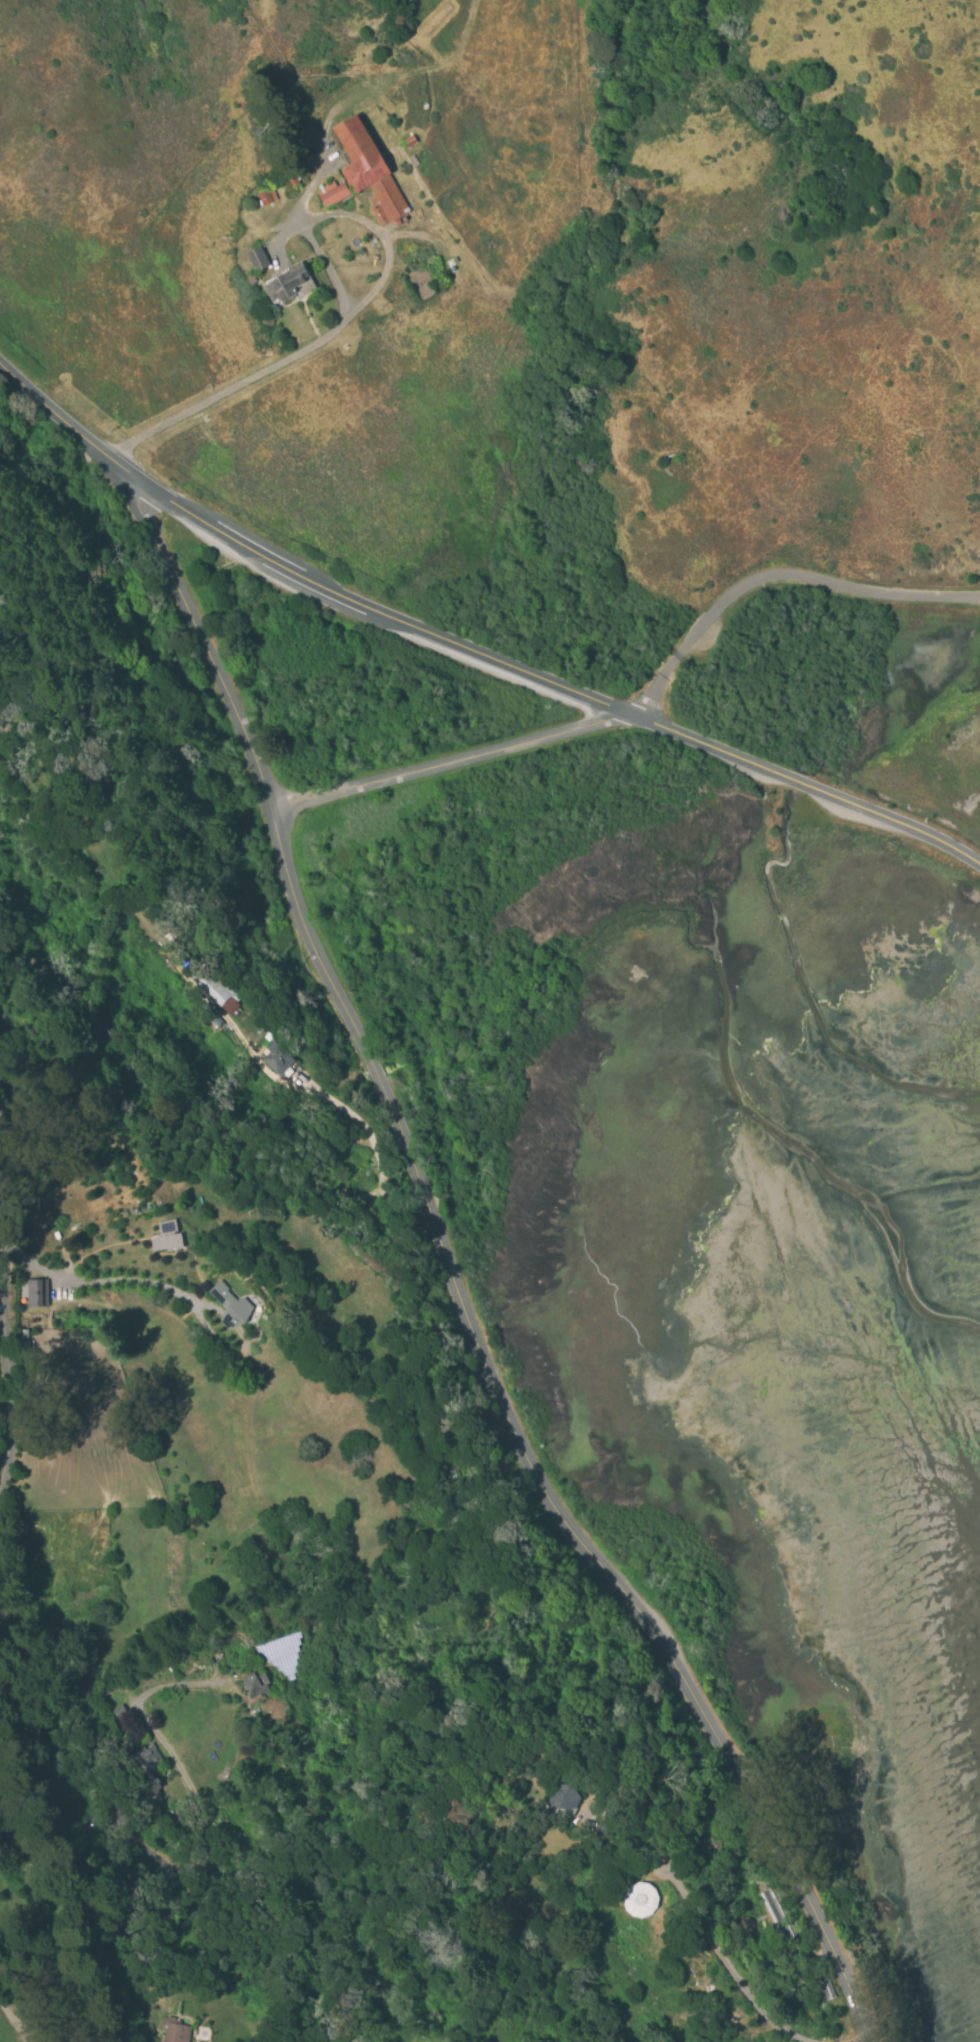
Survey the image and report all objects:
building: (408, 141)
building: (413, 160)
building: (368, 170)
building: (293, 181)
building: (332, 192)
building: (266, 195)
building: (258, 259)
building: (250, 278)
building: (290, 284)
road: (221, 384)
road: (68, 425)
road: (776, 576)
road: (383, 616)
road: (199, 643)
road: (451, 764)
road: (811, 788)
building: (217, 989)
building: (276, 1058)
building: (167, 1237)
building: (36, 1293)
building: (231, 1307)
road: (15, 1372)
road: (523, 1447)
building: (254, 1685)
building: (148, 1769)
building: (564, 1796)
road: (77, 1838)
building: (640, 1899)
building: (776, 1916)
building: (173, 2030)

